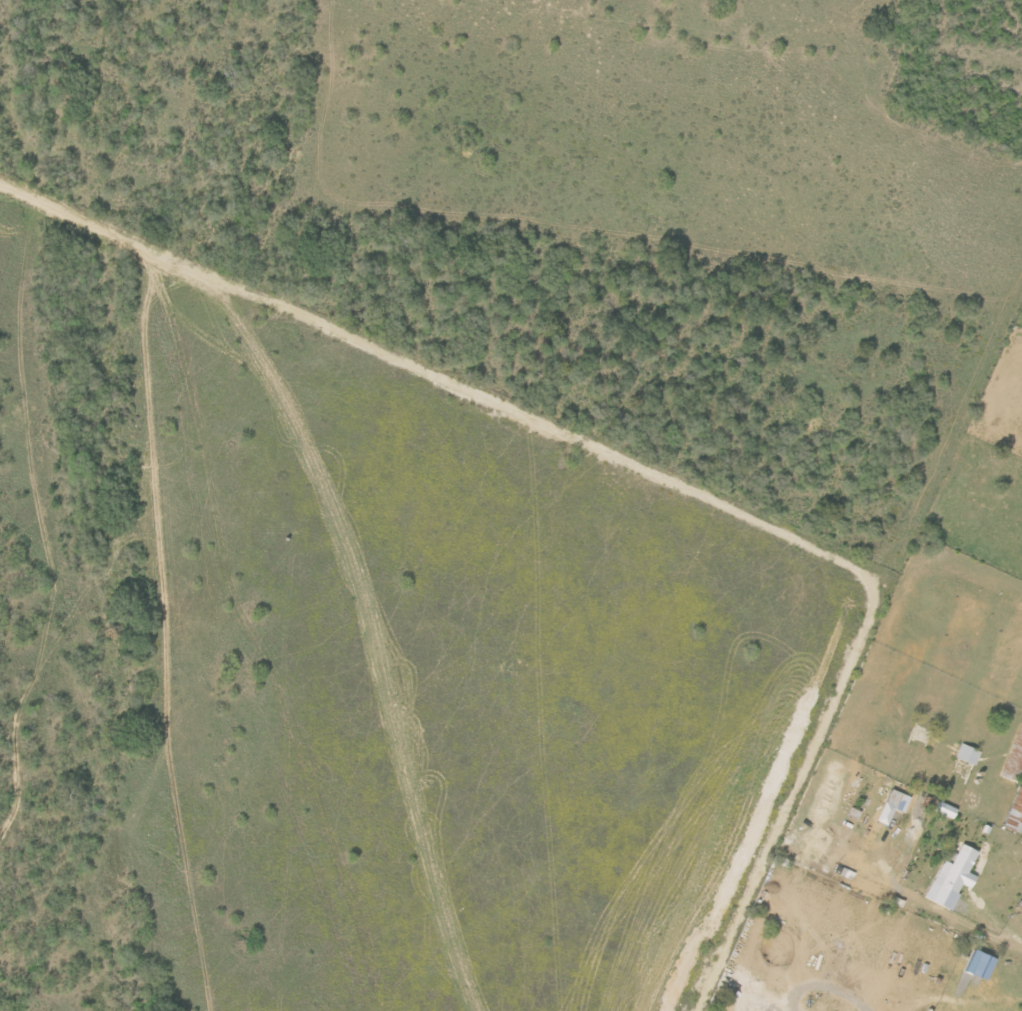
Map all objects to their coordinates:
building: (964, 754)
building: (1013, 757)
building: (889, 805)
building: (940, 809)
building: (1013, 811)
building: (950, 877)
road: (1012, 935)
building: (970, 963)

